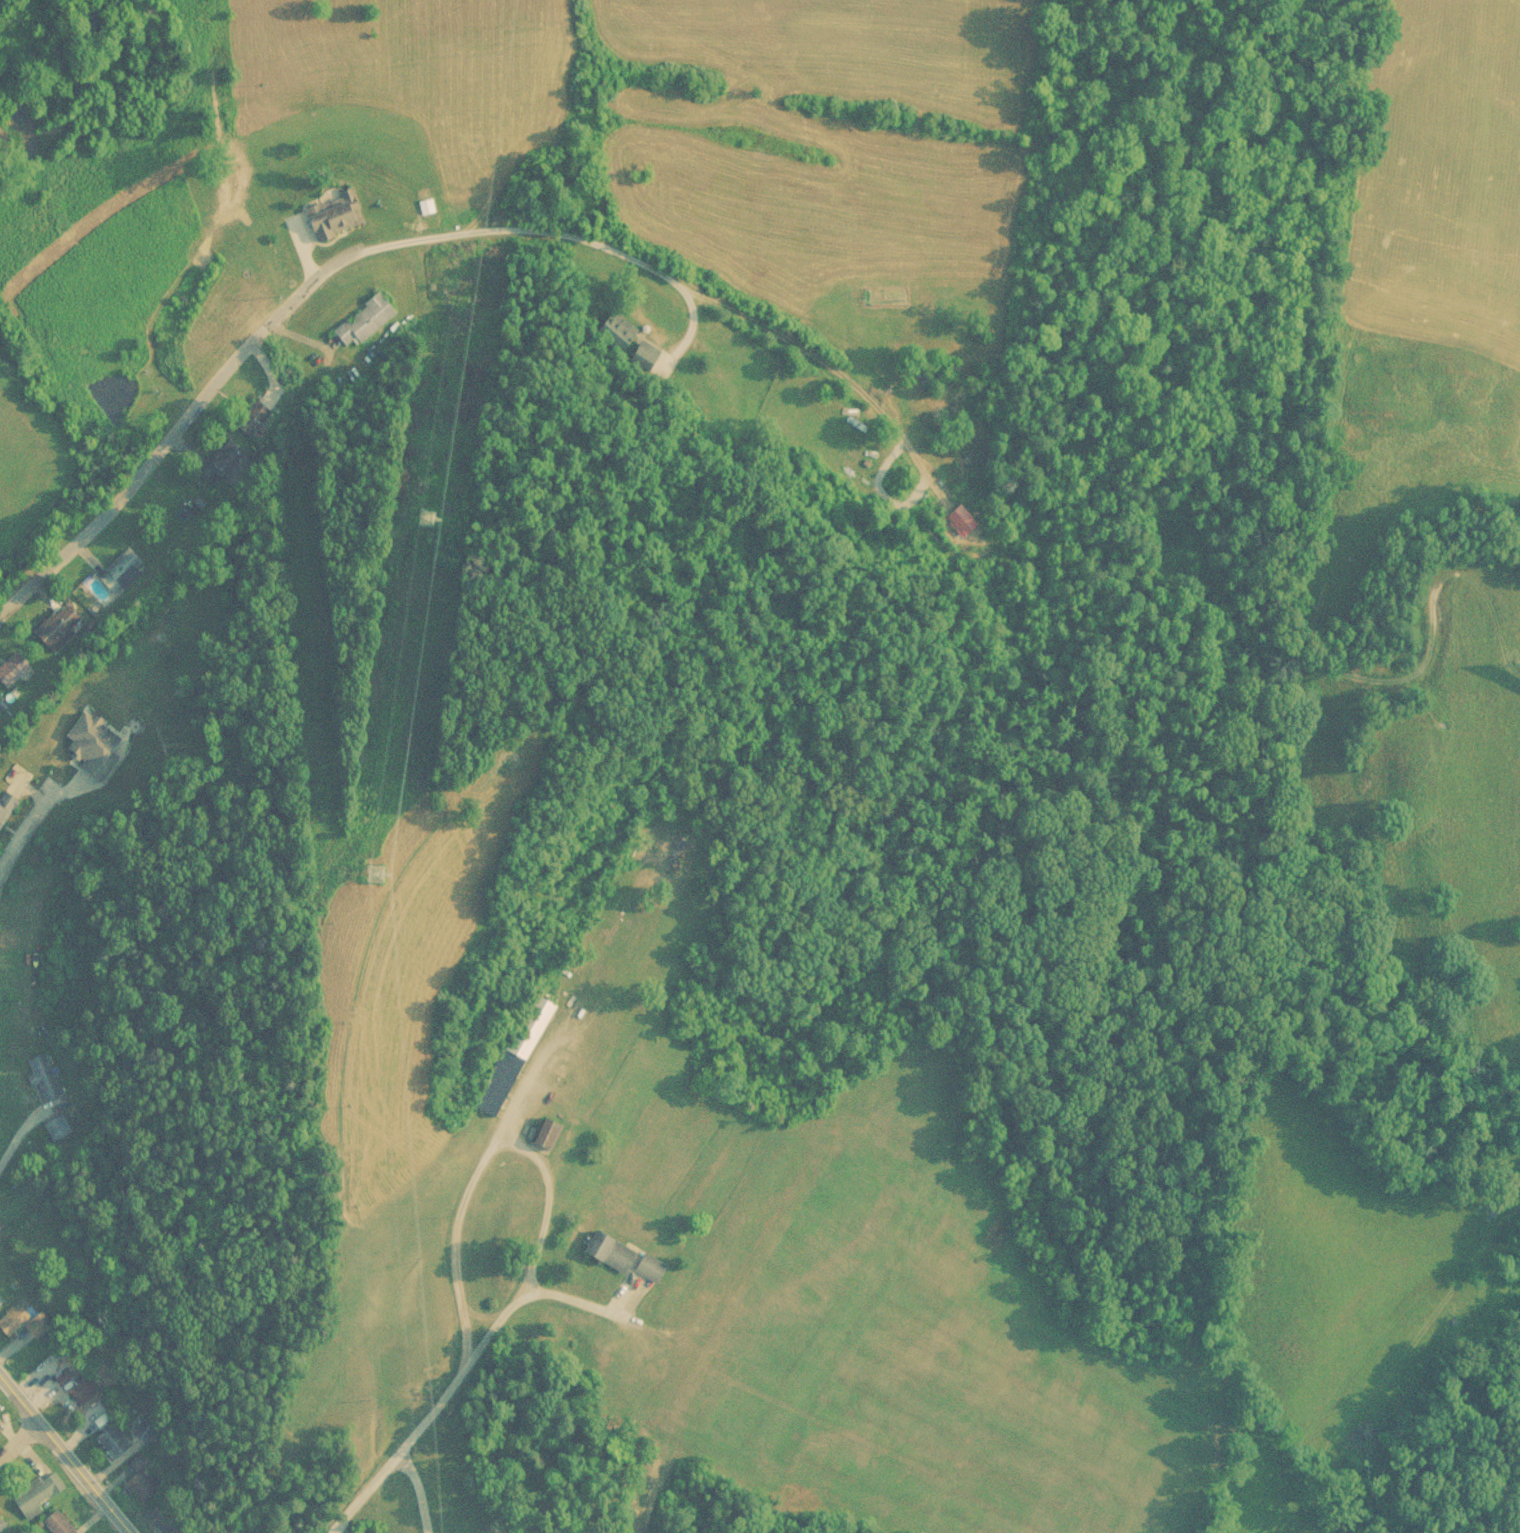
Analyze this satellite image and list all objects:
building: (425, 206)
building: (335, 216)
road: (309, 280)
building: (365, 319)
building: (229, 455)
power tower: (428, 515)
building: (120, 568)
building: (60, 627)
building: (13, 669)
building: (94, 741)
building: (6, 809)
road: (19, 834)
power tower: (379, 874)
building: (514, 1058)
building: (43, 1077)
building: (56, 1126)
building: (549, 1131)
road: (478, 1163)
building: (514, 1208)
building: (613, 1250)
building: (651, 1267)
building: (0, 1306)
building: (22, 1322)
building: (83, 1389)
road: (429, 1408)
building: (146, 1428)
road: (18, 1440)
building: (113, 1441)
road: (68, 1459)
building: (143, 1484)
road: (415, 1490)
building: (35, 1496)
building: (166, 1518)
building: (59, 1523)
building: (2, 1525)

